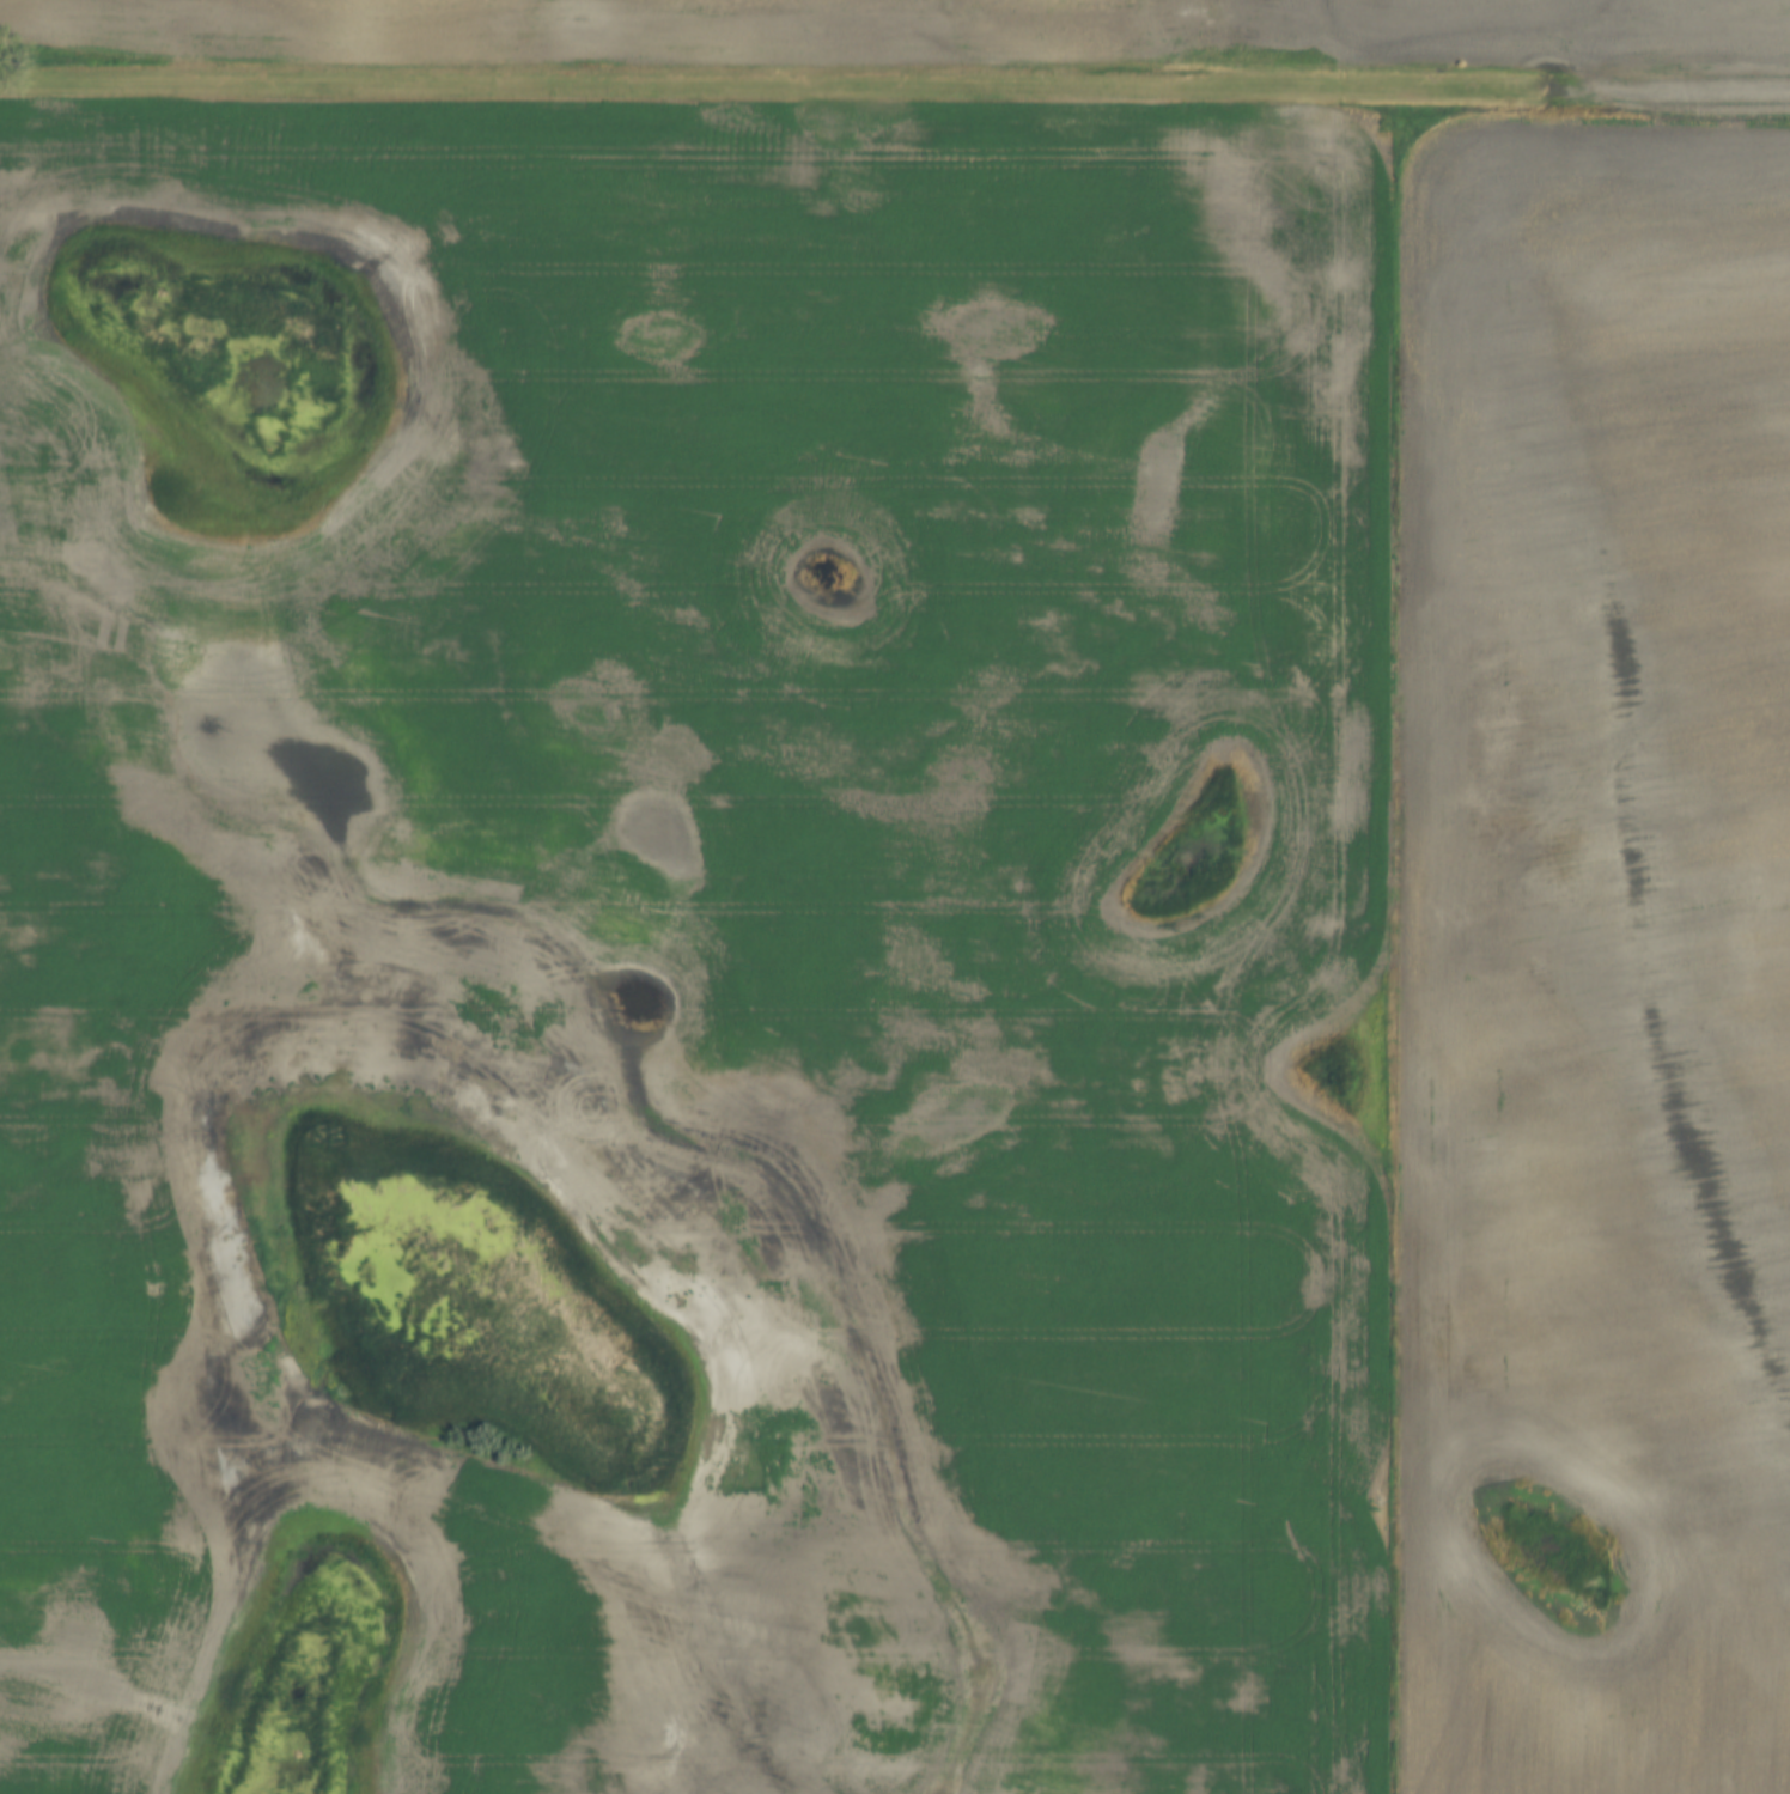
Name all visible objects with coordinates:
road: (894, 91)

